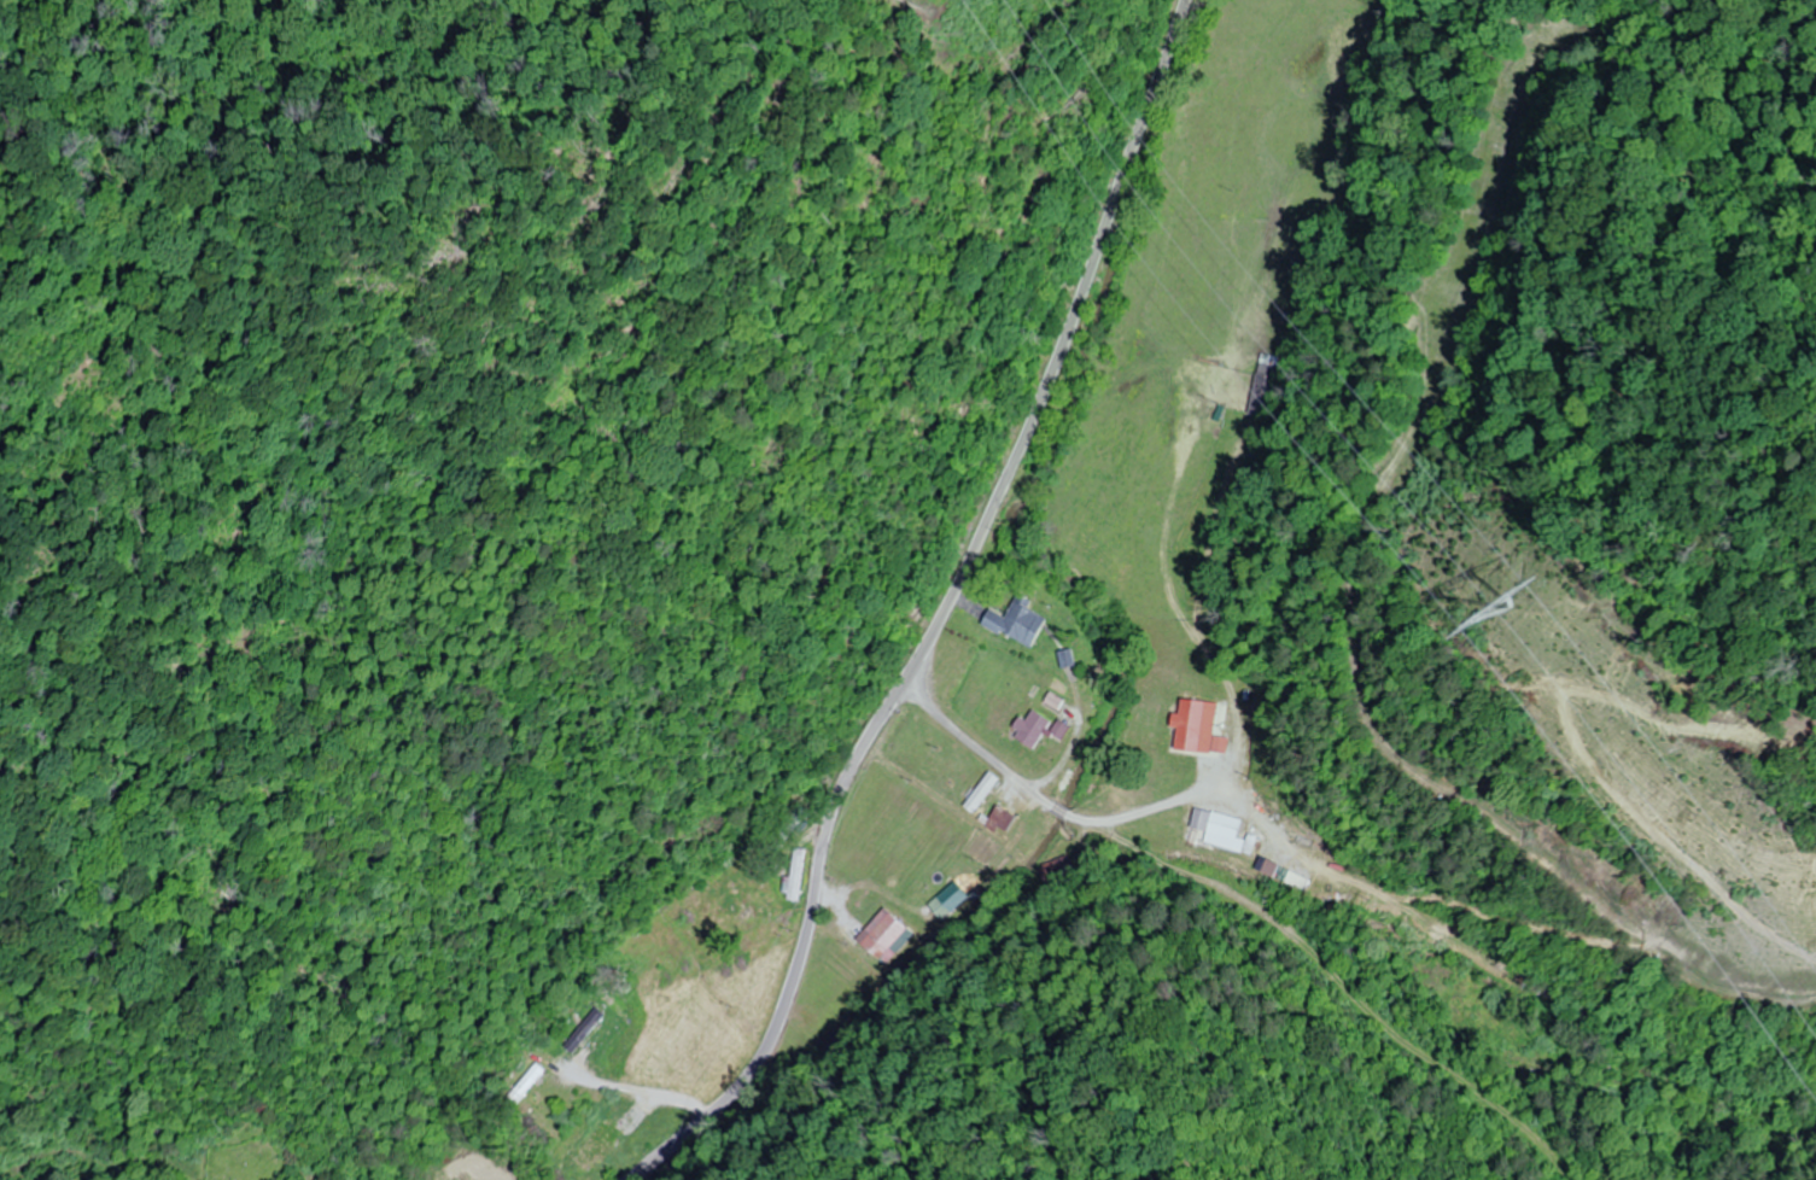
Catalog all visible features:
building: (1261, 385)
power tower: (1501, 611)
road: (940, 615)
building: (1017, 621)
building: (1193, 725)
building: (1032, 729)
building: (1061, 729)
building: (981, 791)
building: (1002, 819)
building: (1170, 819)
building: (795, 824)
building: (1228, 834)
building: (1057, 871)
building: (883, 934)
building: (811, 1027)
building: (584, 1029)
building: (527, 1082)
building: (595, 1145)

